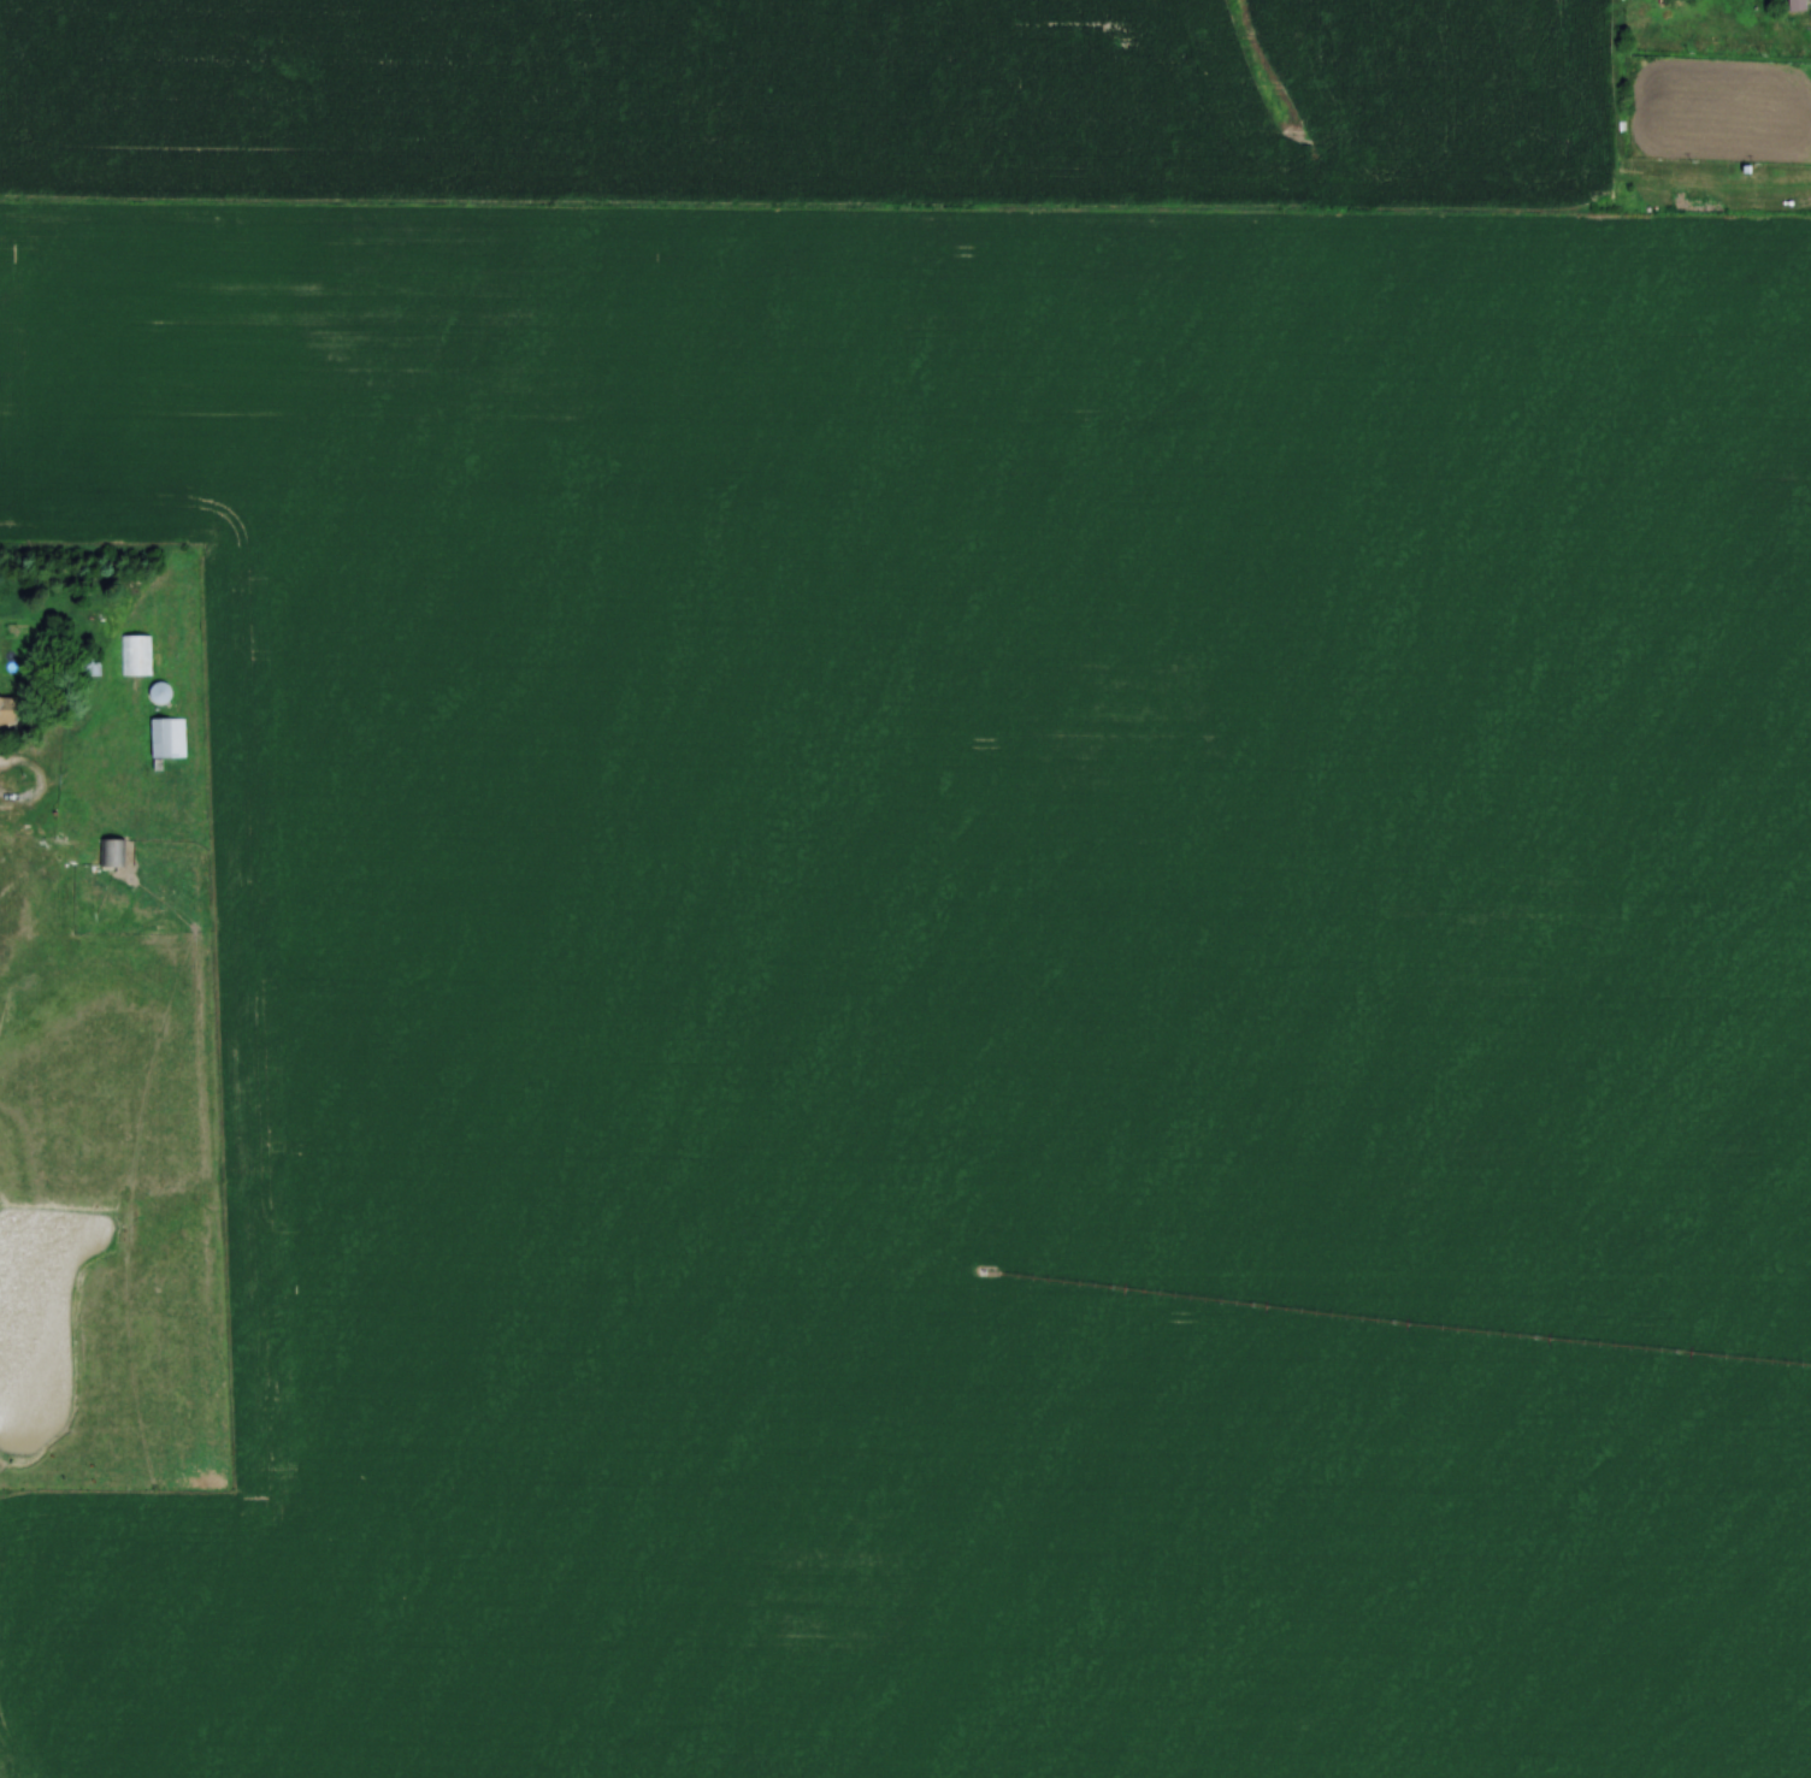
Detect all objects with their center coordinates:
building: (134, 654)
building: (10, 713)
building: (167, 737)
road: (39, 788)
building: (108, 856)

